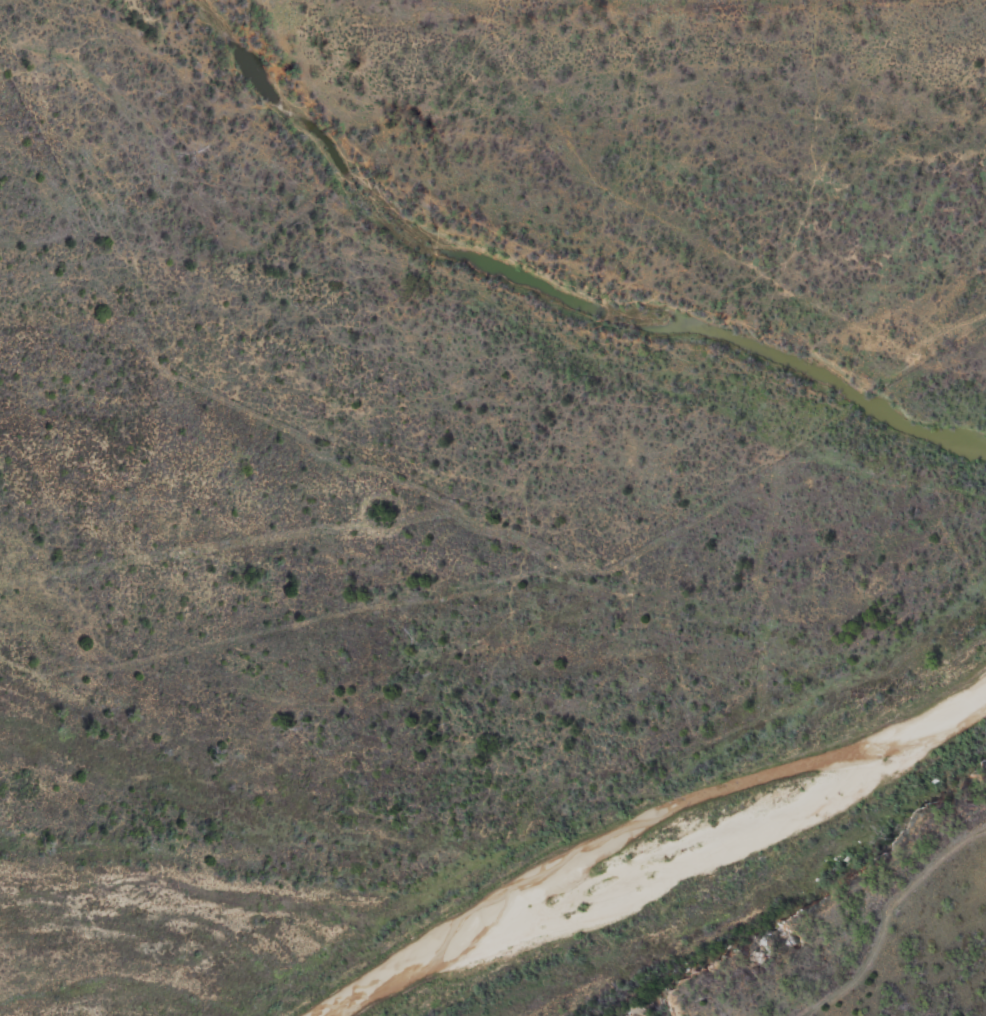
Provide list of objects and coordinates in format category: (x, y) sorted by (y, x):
road: (889, 908)

